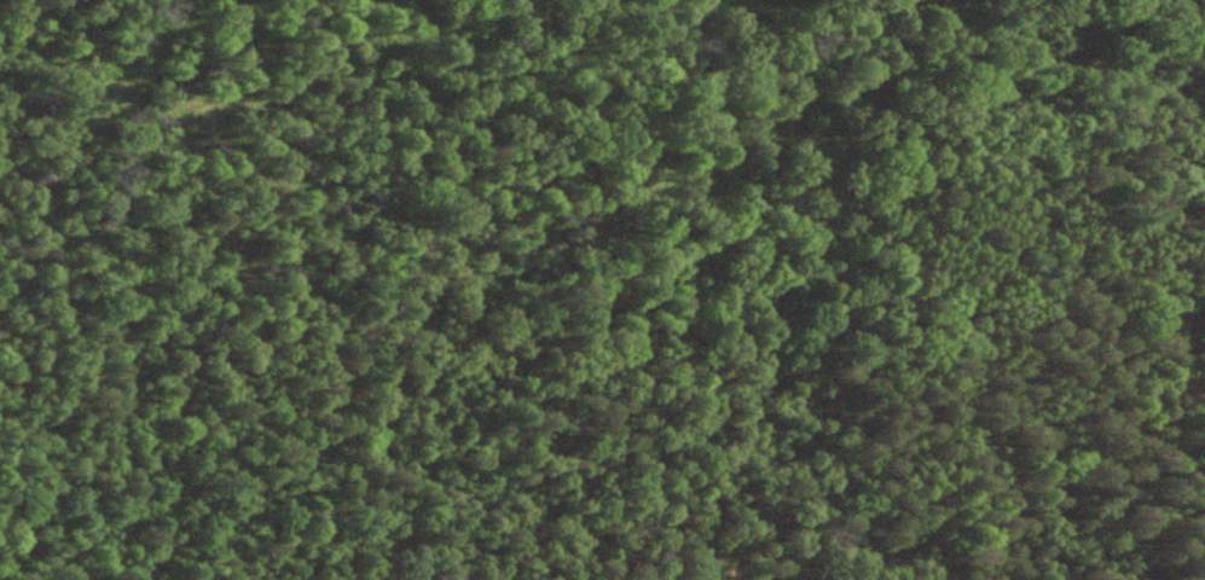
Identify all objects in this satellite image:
road: (1035, 46)

